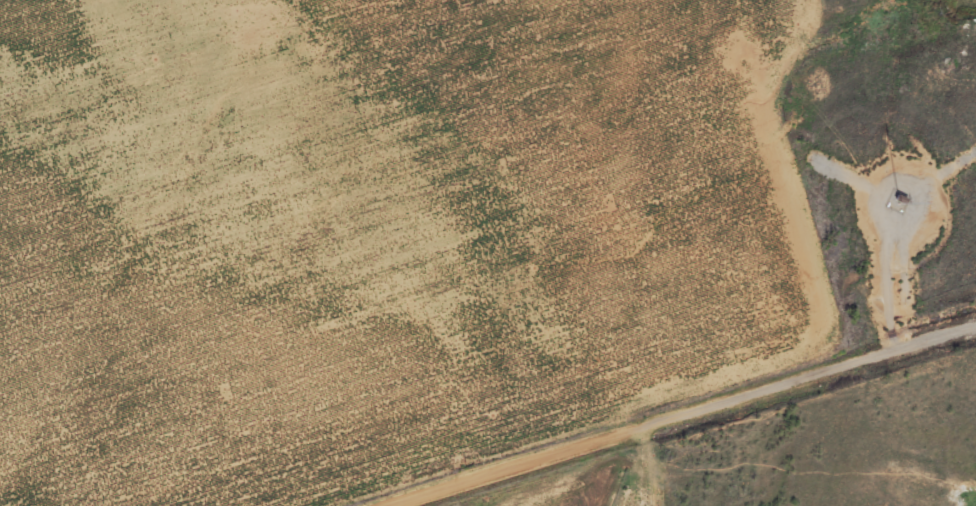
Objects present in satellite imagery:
road: (682, 415)

